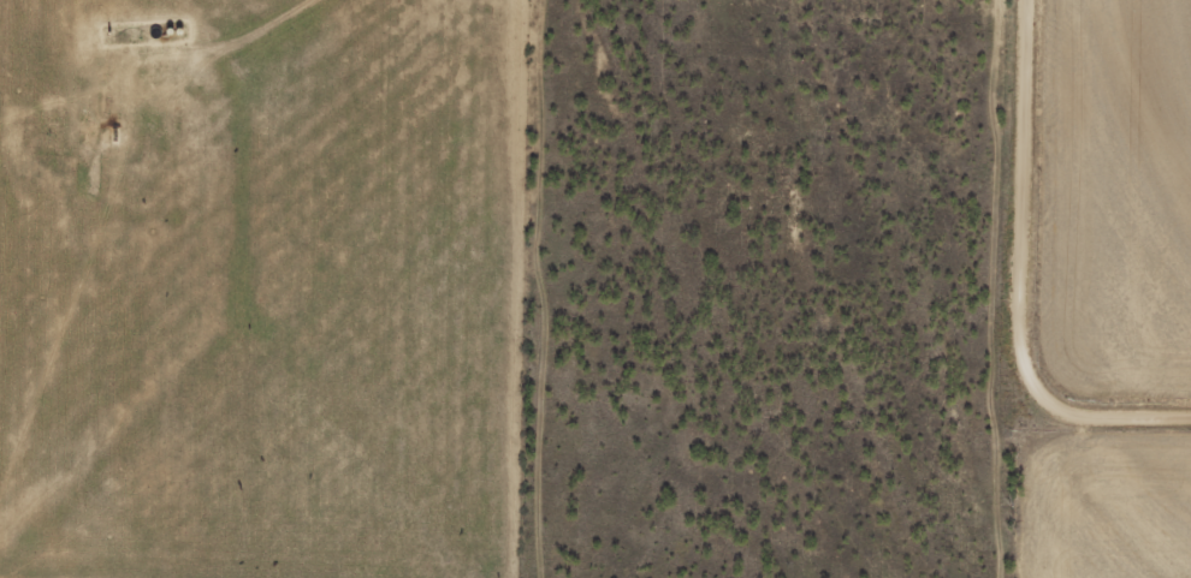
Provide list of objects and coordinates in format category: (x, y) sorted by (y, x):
road: (1015, 281)

